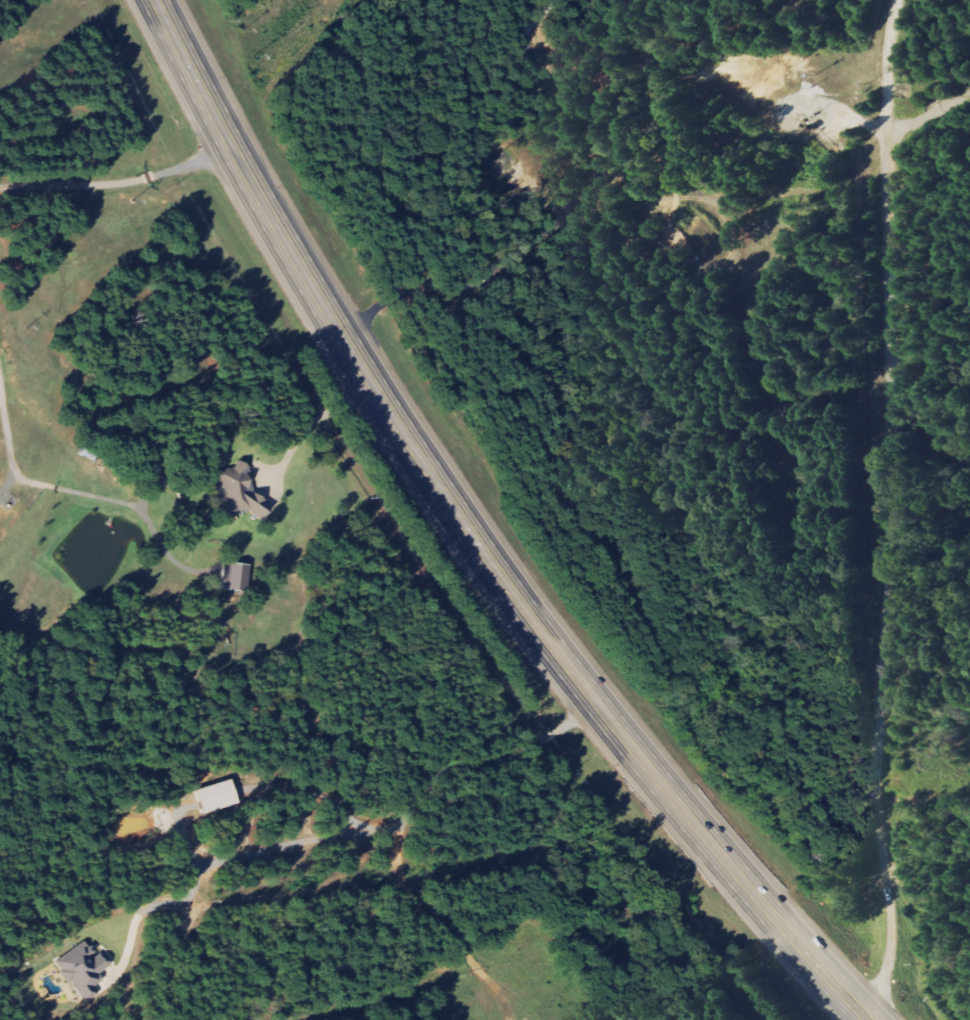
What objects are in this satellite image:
building: (241, 495)
road: (884, 511)
road: (475, 535)
building: (239, 577)
building: (221, 796)
road: (923, 796)
building: (86, 970)

